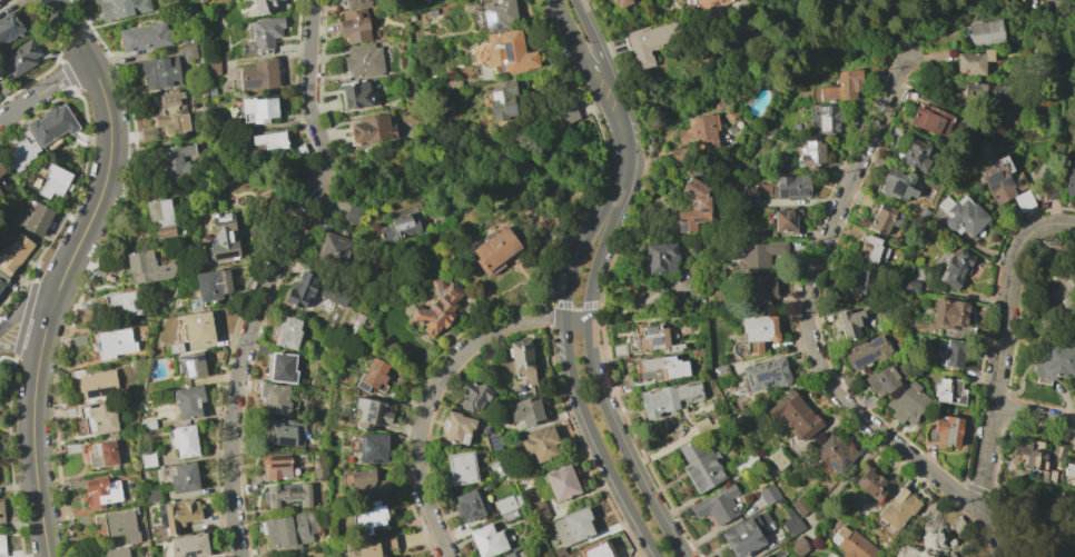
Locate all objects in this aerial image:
building: (0, 0)
building: (355, 2)
park: (1069, 2)
building: (620, 3)
building: (704, 3)
building: (265, 7)
building: (120, 8)
road: (1057, 8)
building: (497, 14)
road: (581, 14)
building: (354, 26)
building: (10, 28)
road: (73, 30)
road: (569, 32)
building: (266, 33)
building: (986, 33)
building: (144, 37)
building: (650, 41)
building: (0, 47)
building: (188, 51)
building: (509, 51)
road: (601, 56)
building: (19, 59)
building: (363, 60)
building: (974, 62)
building: (210, 68)
building: (161, 73)
road: (600, 73)
building: (259, 74)
road: (306, 79)
building: (841, 86)
building: (3, 88)
road: (596, 88)
road: (45, 89)
building: (982, 89)
building: (210, 91)
building: (357, 95)
building: (502, 100)
road: (619, 101)
building: (253, 109)
building: (171, 112)
building: (566, 113)
building: (729, 115)
building: (828, 119)
building: (931, 120)
road: (612, 121)
building: (52, 125)
building: (371, 128)
road: (628, 132)
building: (148, 133)
building: (696, 137)
building: (268, 140)
building: (297, 150)
building: (21, 151)
building: (812, 153)
building: (917, 155)
building: (177, 159)
building: (2, 169)
building: (1000, 180)
building: (56, 181)
building: (1069, 181)
road: (320, 185)
building: (897, 185)
building: (791, 186)
building: (1, 193)
road: (96, 200)
building: (1022, 201)
building: (700, 202)
building: (354, 213)
building: (961, 215)
building: (160, 217)
building: (884, 218)
building: (36, 219)
building: (785, 220)
building: (397, 228)
building: (223, 238)
building: (334, 248)
building: (871, 249)
building: (494, 250)
road: (1017, 251)
building: (13, 255)
building: (758, 256)
building: (661, 258)
building: (146, 267)
building: (956, 268)
building: (2, 280)
building: (862, 281)
building: (213, 284)
building: (910, 286)
building: (763, 289)
park: (1049, 289)
building: (312, 291)
building: (0, 294)
building: (124, 304)
building: (437, 307)
road: (807, 310)
building: (949, 312)
road: (696, 318)
road: (575, 321)
building: (849, 321)
building: (355, 325)
building: (197, 328)
road: (18, 329)
building: (287, 332)
building: (755, 335)
building: (655, 339)
building: (114, 344)
building: (175, 347)
road: (566, 348)
building: (618, 350)
building: (867, 351)
building: (956, 352)
road: (590, 358)
building: (483, 360)
building: (522, 360)
building: (1054, 362)
building: (193, 365)
building: (280, 367)
building: (660, 367)
building: (720, 370)
building: (766, 375)
building: (373, 376)
road: (237, 377)
building: (884, 379)
building: (98, 384)
building: (948, 391)
road: (428, 395)
building: (474, 395)
building: (668, 398)
building: (275, 399)
building: (188, 402)
building: (907, 402)
road: (990, 410)
building: (526, 411)
building: (372, 412)
building: (796, 415)
road: (1033, 415)
building: (97, 419)
building: (147, 425)
building: (457, 427)
building: (948, 430)
building: (285, 432)
building: (184, 440)
building: (493, 442)
building: (540, 444)
road: (31, 445)
building: (372, 447)
building: (835, 452)
building: (101, 454)
building: (1057, 454)
building: (778, 458)
building: (147, 459)
building: (1033, 460)
building: (747, 464)
building: (275, 466)
building: (699, 466)
building: (461, 467)
building: (497, 468)
building: (1069, 469)
building: (316, 473)
building: (184, 477)
building: (366, 479)
building: (561, 483)
building: (872, 483)
building: (102, 491)
building: (769, 494)
building: (152, 495)
building: (287, 495)
building: (506, 503)
building: (717, 505)
building: (800, 505)
building: (469, 506)
building: (896, 510)
building: (535, 511)
building: (2, 513)
building: (179, 514)
road: (1027, 514)
building: (509, 515)
building: (369, 516)
park: (1039, 519)
building: (572, 525)
building: (791, 525)
building: (118, 526)
road: (995, 528)
building: (289, 529)
building: (746, 534)
road: (904, 534)
park: (940, 534)
building: (489, 540)
building: (926, 543)
building: (851, 544)
road: (1026, 544)
building: (2, 546)
building: (189, 546)
building: (797, 546)
building: (369, 547)
building: (596, 549)
building: (116, 551)
park: (308, 551)
building: (514, 551)
building: (556, 551)
building: (778, 553)
building: (766, 556)
building: (768, 556)
building: (838, 556)

